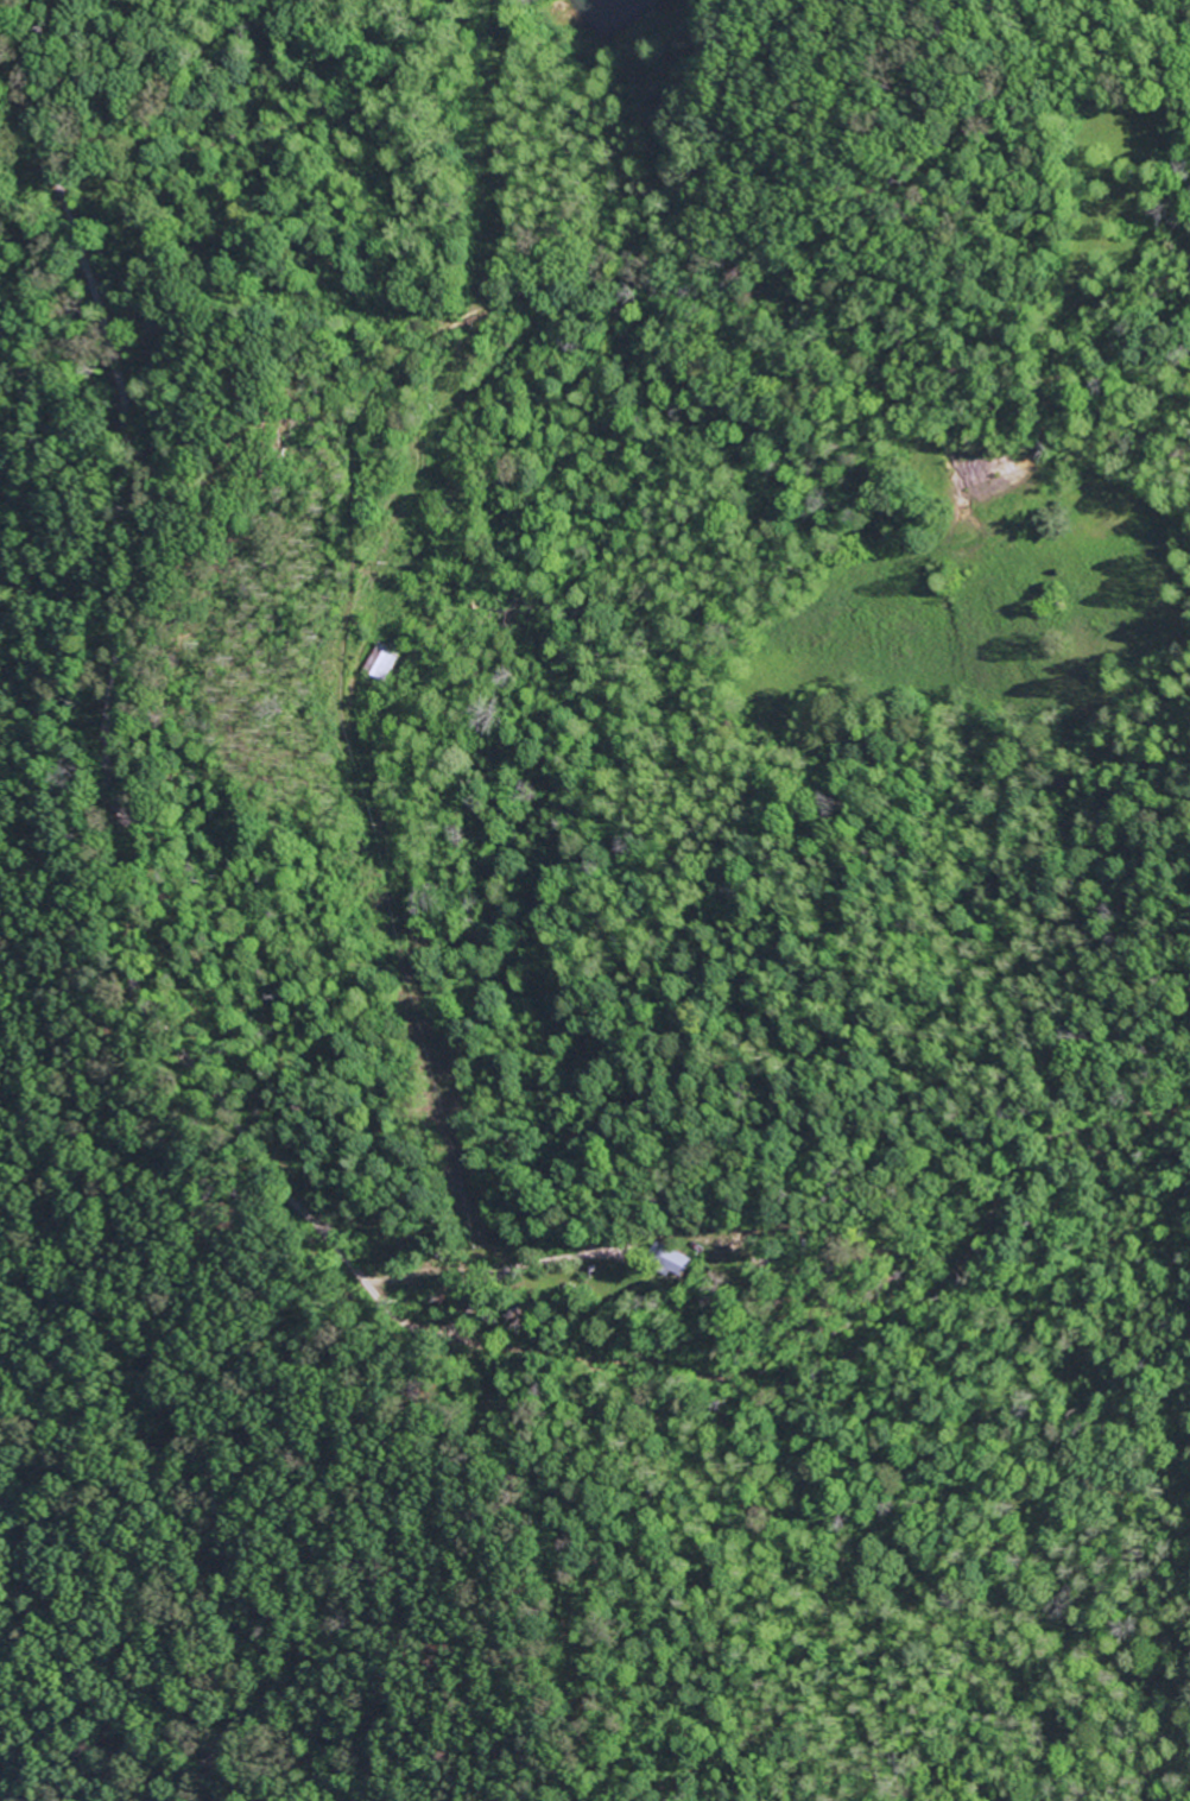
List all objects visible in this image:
road: (1096, 524)
road: (1021, 592)
road: (133, 965)

